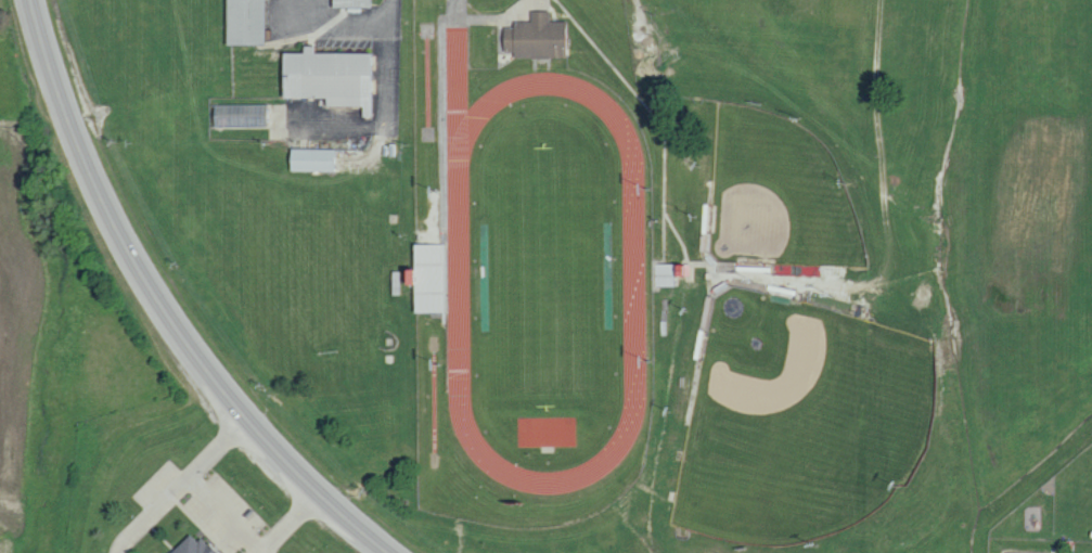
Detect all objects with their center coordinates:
building: (358, 5)
building: (240, 22)
building: (535, 37)
road: (647, 40)
building: (329, 78)
building: (239, 115)
building: (310, 159)
park: (775, 194)
park: (545, 267)
road: (159, 306)
park: (796, 419)
building: (190, 545)

